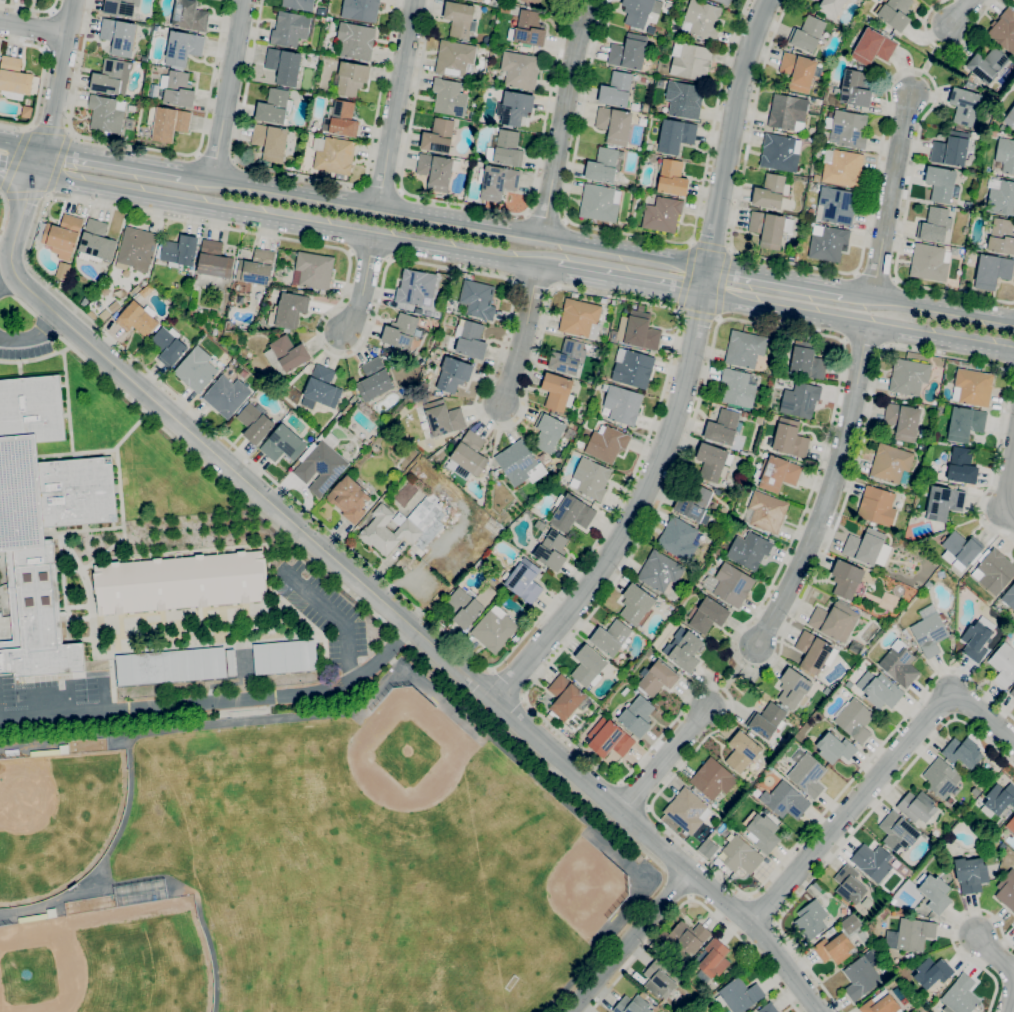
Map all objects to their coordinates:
building: (479, 0)
building: (531, 2)
building: (723, 2)
building: (1013, 2)
building: (299, 4)
building: (121, 7)
road: (31, 8)
building: (830, 8)
building: (361, 9)
building: (637, 12)
building: (894, 13)
road: (960, 14)
building: (190, 16)
building: (460, 19)
building: (702, 20)
road: (34, 25)
building: (290, 29)
building: (528, 29)
building: (1004, 31)
building: (807, 34)
building: (119, 36)
building: (356, 40)
building: (872, 47)
building: (183, 48)
road: (947, 50)
building: (628, 52)
building: (455, 58)
road: (929, 60)
building: (690, 61)
building: (988, 64)
building: (284, 66)
building: (520, 70)
building: (798, 71)
building: (112, 77)
building: (14, 78)
building: (351, 78)
building: (970, 78)
road: (44, 83)
building: (660, 83)
road: (57, 87)
road: (226, 87)
building: (177, 88)
building: (855, 89)
building: (616, 90)
building: (449, 97)
building: (684, 99)
building: (818, 101)
road: (396, 102)
building: (644, 106)
building: (964, 106)
building: (273, 107)
building: (514, 107)
building: (26, 111)
building: (788, 113)
building: (106, 114)
building: (1009, 118)
building: (341, 120)
building: (167, 122)
building: (614, 125)
building: (1002, 127)
road: (563, 128)
building: (847, 129)
road: (51, 131)
building: (974, 135)
building: (439, 136)
building: (675, 136)
building: (270, 141)
road: (21, 145)
road: (145, 147)
building: (508, 149)
building: (952, 150)
building: (780, 152)
building: (333, 154)
building: (1004, 156)
road: (15, 157)
road: (215, 157)
road: (113, 160)
road: (57, 162)
building: (604, 165)
building: (842, 167)
road: (16, 170)
building: (437, 171)
road: (309, 176)
building: (672, 178)
building: (817, 178)
building: (497, 182)
road: (874, 182)
building: (942, 184)
building: (770, 192)
road: (890, 194)
building: (1001, 196)
road: (25, 197)
building: (600, 203)
road: (475, 205)
building: (836, 205)
building: (977, 207)
road: (5, 214)
building: (662, 215)
road: (445, 217)
road: (287, 219)
building: (934, 225)
building: (770, 228)
building: (965, 230)
building: (61, 235)
road: (638, 235)
building: (1002, 237)
building: (96, 242)
building: (828, 243)
road: (711, 244)
building: (137, 248)
building: (179, 251)
building: (214, 260)
building: (928, 263)
building: (257, 267)
building: (314, 269)
road: (548, 270)
building: (992, 271)
road: (6, 273)
road: (685, 276)
road: (776, 278)
road: (721, 283)
road: (628, 284)
building: (62, 285)
road: (363, 285)
building: (415, 287)
building: (240, 298)
building: (478, 299)
road: (23, 306)
road: (662, 306)
road: (929, 306)
building: (640, 307)
building: (291, 309)
road: (698, 315)
building: (137, 318)
building: (581, 318)
road: (46, 325)
road: (857, 327)
building: (401, 331)
building: (637, 331)
road: (33, 336)
road: (521, 337)
building: (809, 337)
building: (470, 340)
building: (169, 346)
building: (746, 350)
building: (285, 354)
building: (567, 357)
road: (36, 359)
building: (806, 361)
building: (633, 367)
building: (196, 369)
road: (1010, 369)
road: (685, 372)
building: (454, 375)
building: (908, 377)
building: (374, 380)
building: (972, 387)
building: (321, 388)
building: (739, 388)
building: (557, 392)
building: (226, 396)
building: (800, 400)
building: (623, 404)
building: (443, 418)
building: (903, 421)
road: (692, 423)
building: (255, 424)
building: (964, 424)
building: (723, 427)
building: (549, 433)
building: (790, 439)
building: (283, 443)
building: (606, 443)
building: (468, 457)
building: (712, 461)
building: (520, 463)
building: (891, 463)
building: (322, 466)
building: (962, 466)
building: (778, 473)
building: (590, 478)
road: (827, 493)
road: (1009, 494)
building: (349, 499)
building: (943, 503)
building: (695, 504)
building: (877, 506)
building: (767, 512)
building: (571, 514)
building: (41, 522)
building: (539, 525)
building: (494, 526)
building: (406, 527)
building: (678, 539)
building: (865, 546)
building: (961, 549)
building: (552, 550)
building: (749, 550)
building: (882, 552)
building: (403, 569)
building: (994, 570)
building: (660, 571)
building: (846, 579)
building: (181, 581)
building: (525, 581)
building: (928, 584)
building: (732, 585)
building: (1009, 597)
road: (384, 602)
road: (361, 604)
building: (636, 604)
building: (464, 607)
road: (337, 615)
building: (708, 615)
building: (835, 621)
building: (494, 629)
building: (907, 633)
building: (930, 633)
building: (611, 637)
building: (977, 639)
building: (686, 651)
building: (814, 652)
road: (386, 655)
building: (285, 656)
building: (231, 662)
building: (900, 664)
building: (1002, 665)
building: (171, 666)
building: (589, 666)
road: (734, 677)
building: (657, 679)
road: (507, 684)
building: (793, 688)
building: (880, 690)
building: (1012, 692)
road: (103, 695)
building: (565, 697)
road: (177, 702)
road: (48, 705)
building: (637, 716)
building: (791, 716)
building: (767, 720)
building: (855, 720)
building: (609, 738)
building: (835, 748)
building: (742, 751)
building: (963, 752)
road: (666, 760)
building: (808, 775)
building: (941, 777)
building: (713, 778)
road: (879, 778)
building: (998, 799)
building: (786, 800)
building: (950, 801)
building: (917, 806)
building: (687, 810)
stadium: (56, 819)
building: (1011, 824)
park: (52, 826)
park: (416, 828)
building: (762, 831)
road: (852, 831)
building: (899, 832)
building: (989, 847)
building: (708, 848)
building: (741, 855)
building: (873, 862)
building: (971, 874)
road: (678, 884)
building: (850, 884)
building: (1007, 890)
building: (934, 892)
park: (520, 897)
road: (761, 910)
building: (883, 913)
building: (811, 919)
building: (1013, 924)
building: (910, 934)
road: (951, 935)
building: (685, 939)
road: (631, 942)
road: (749, 948)
building: (834, 948)
road: (994, 952)
road: (640, 953)
building: (714, 958)
stadium: (108, 960)
building: (932, 972)
park: (109, 973)
building: (861, 977)
building: (659, 979)
park: (394, 992)
building: (875, 993)
building: (739, 995)
building: (961, 995)
road: (1010, 997)
building: (904, 1001)
building: (633, 1004)
building: (880, 1005)
building: (768, 1008)

